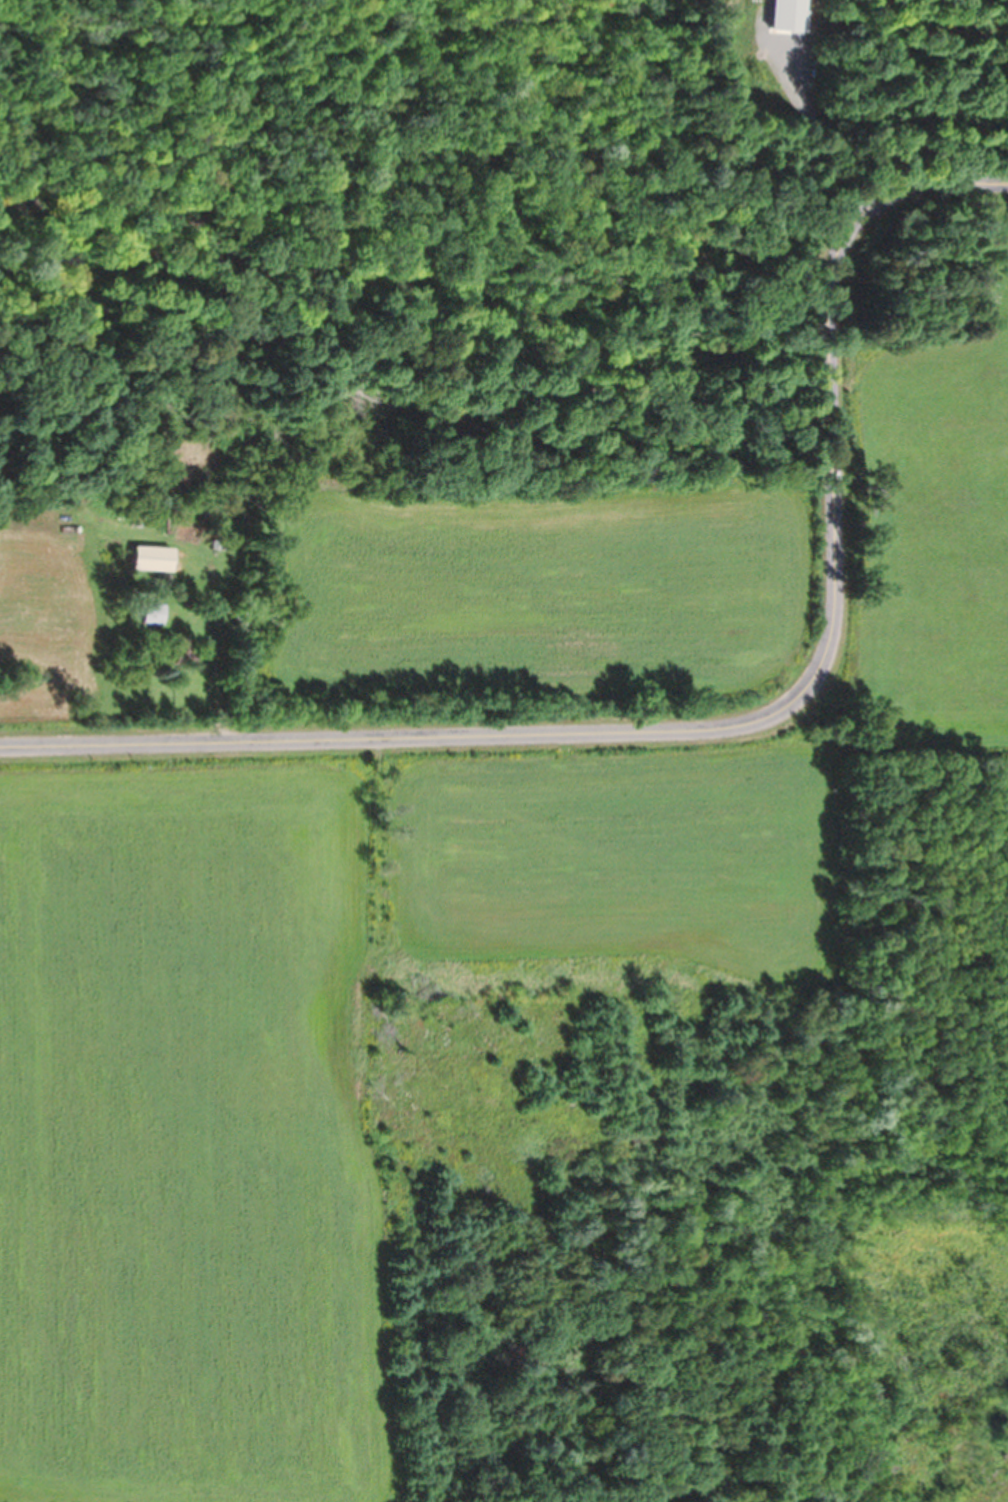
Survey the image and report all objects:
building: (147, 557)
building: (149, 612)
building: (175, 649)
road: (732, 722)

